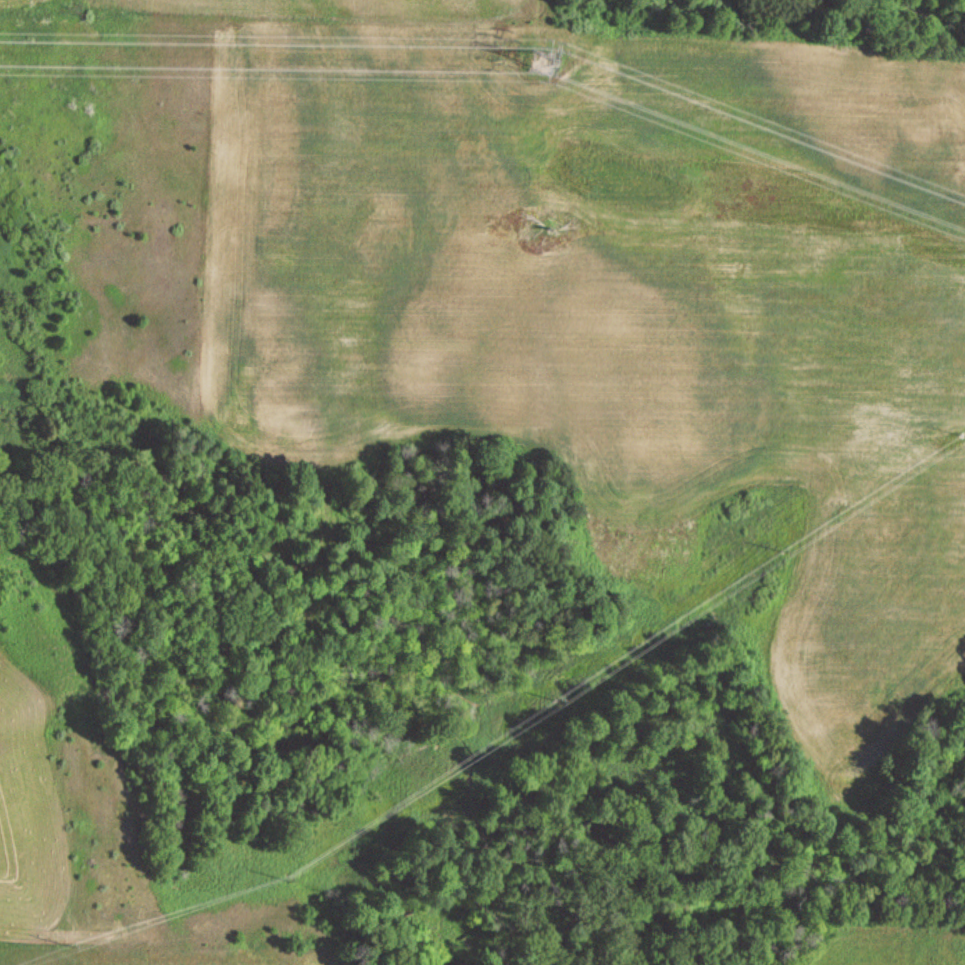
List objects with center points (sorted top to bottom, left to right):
power tower: (544, 57)

